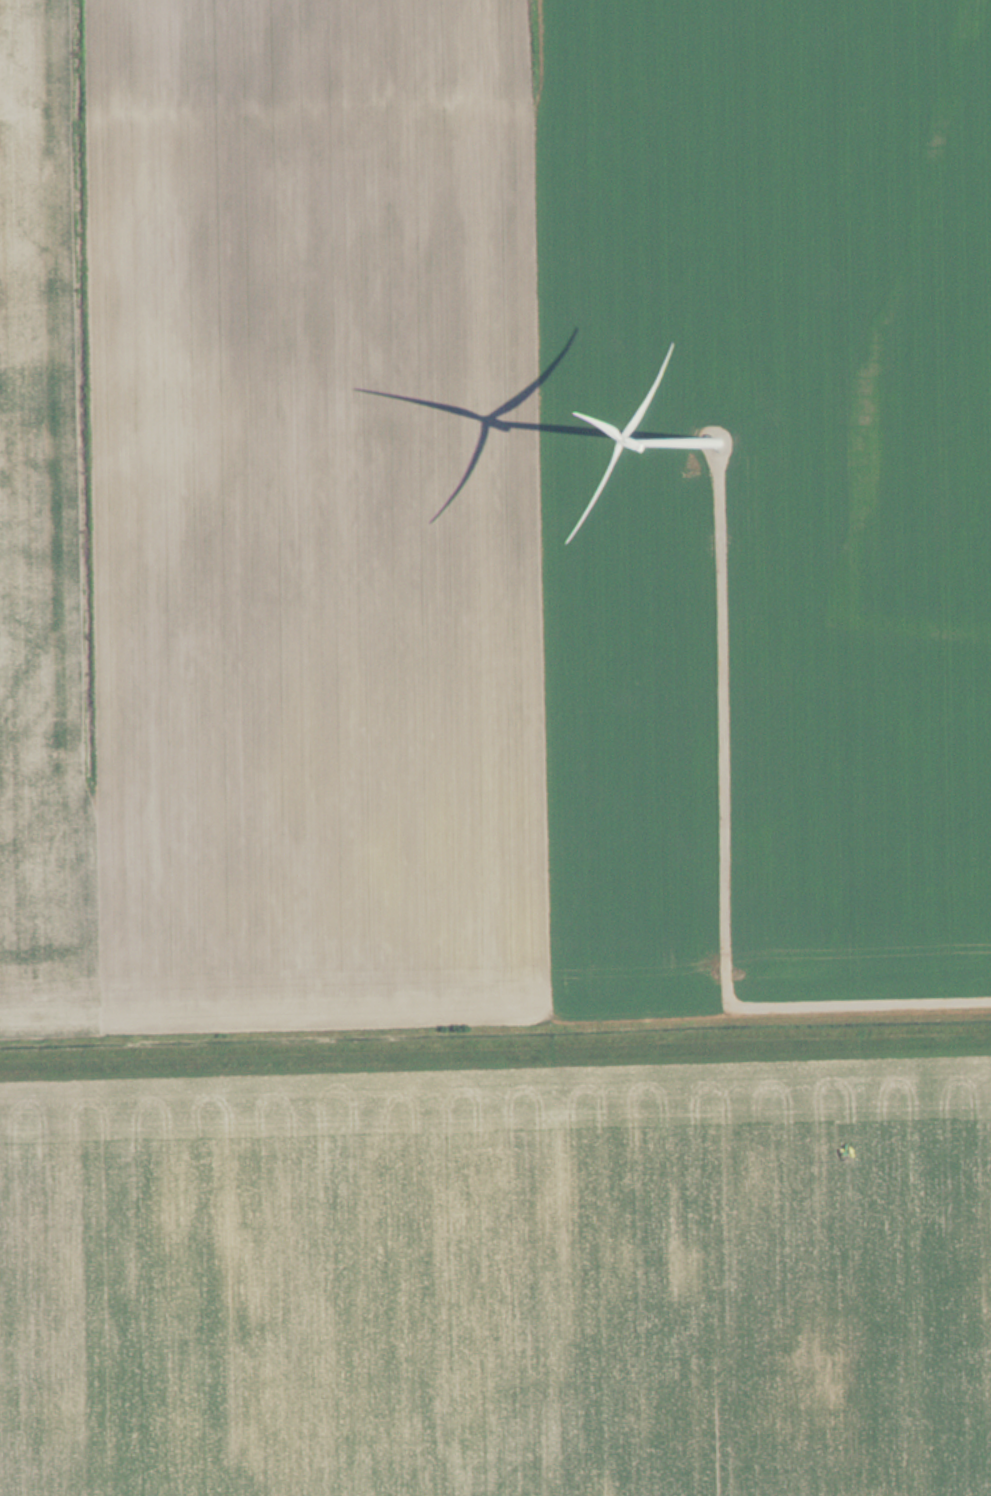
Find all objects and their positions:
wind turbine: (718, 425)
road: (721, 905)

